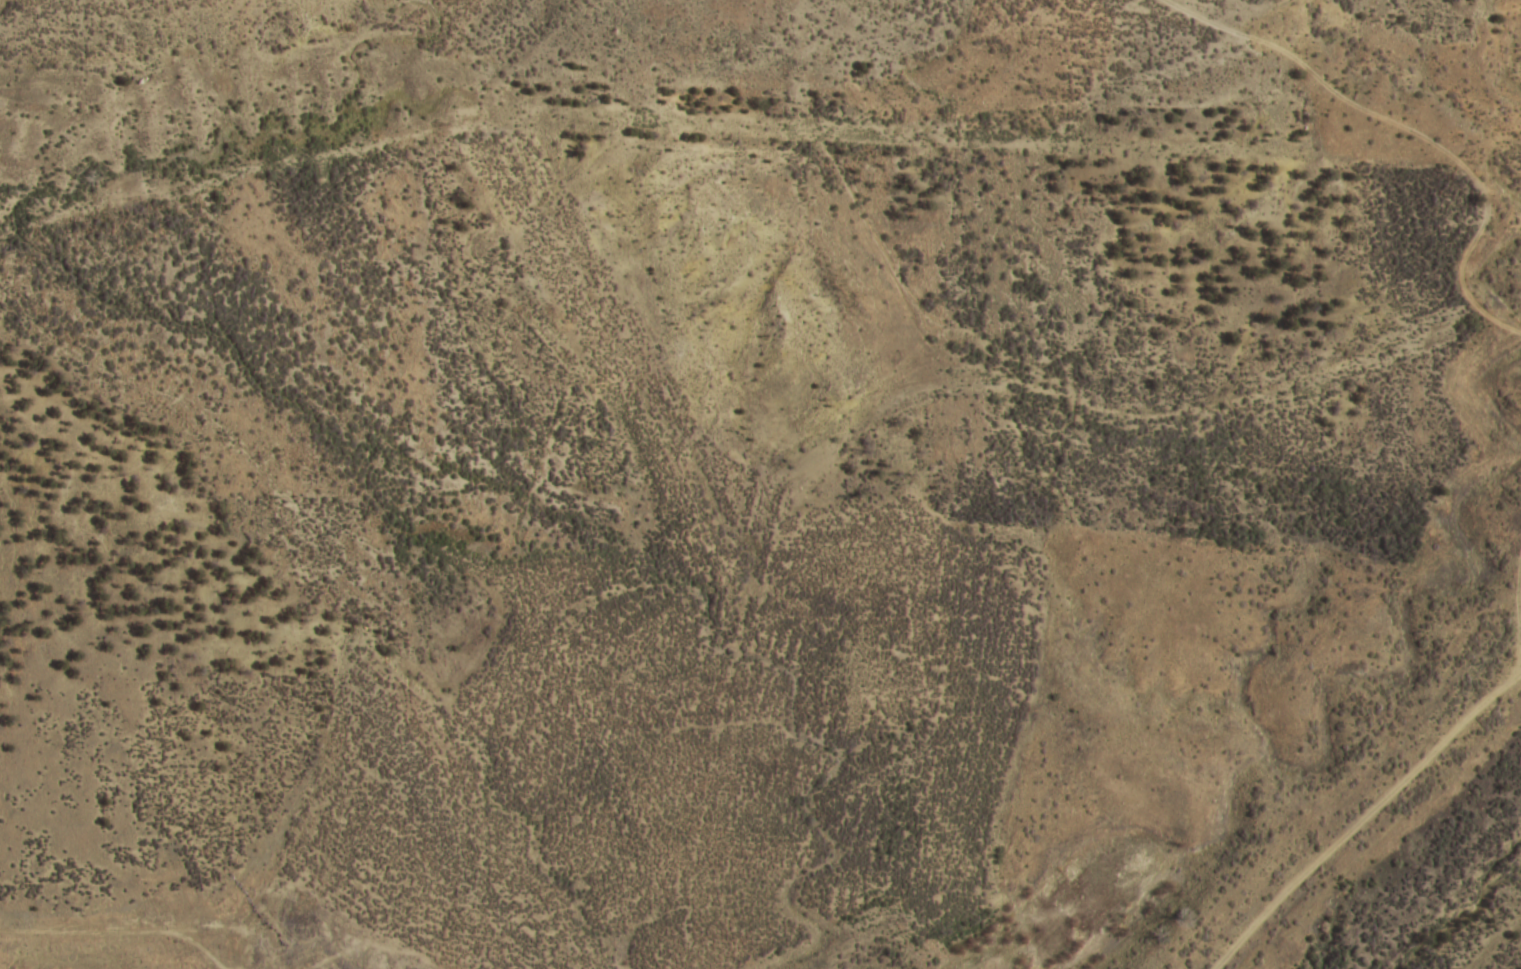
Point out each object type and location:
road: (1368, 814)

